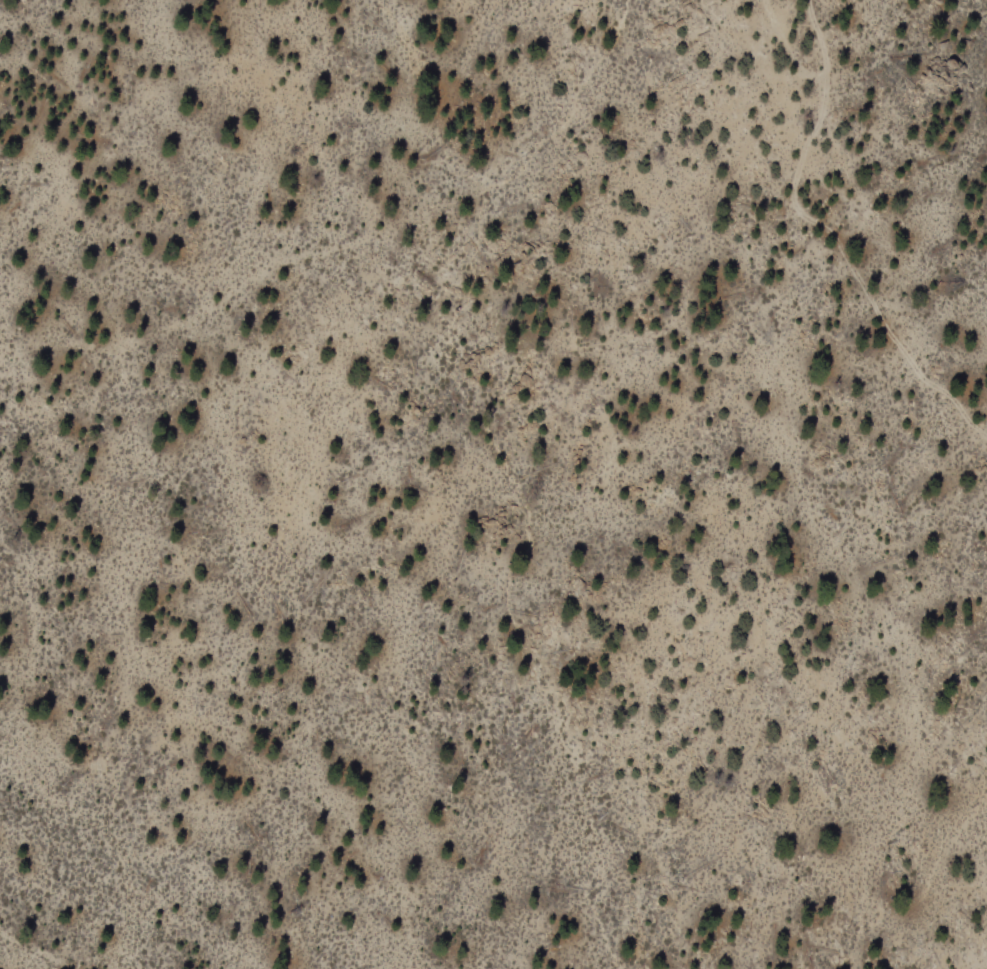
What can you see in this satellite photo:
road: (225, 304)
road: (38, 950)

